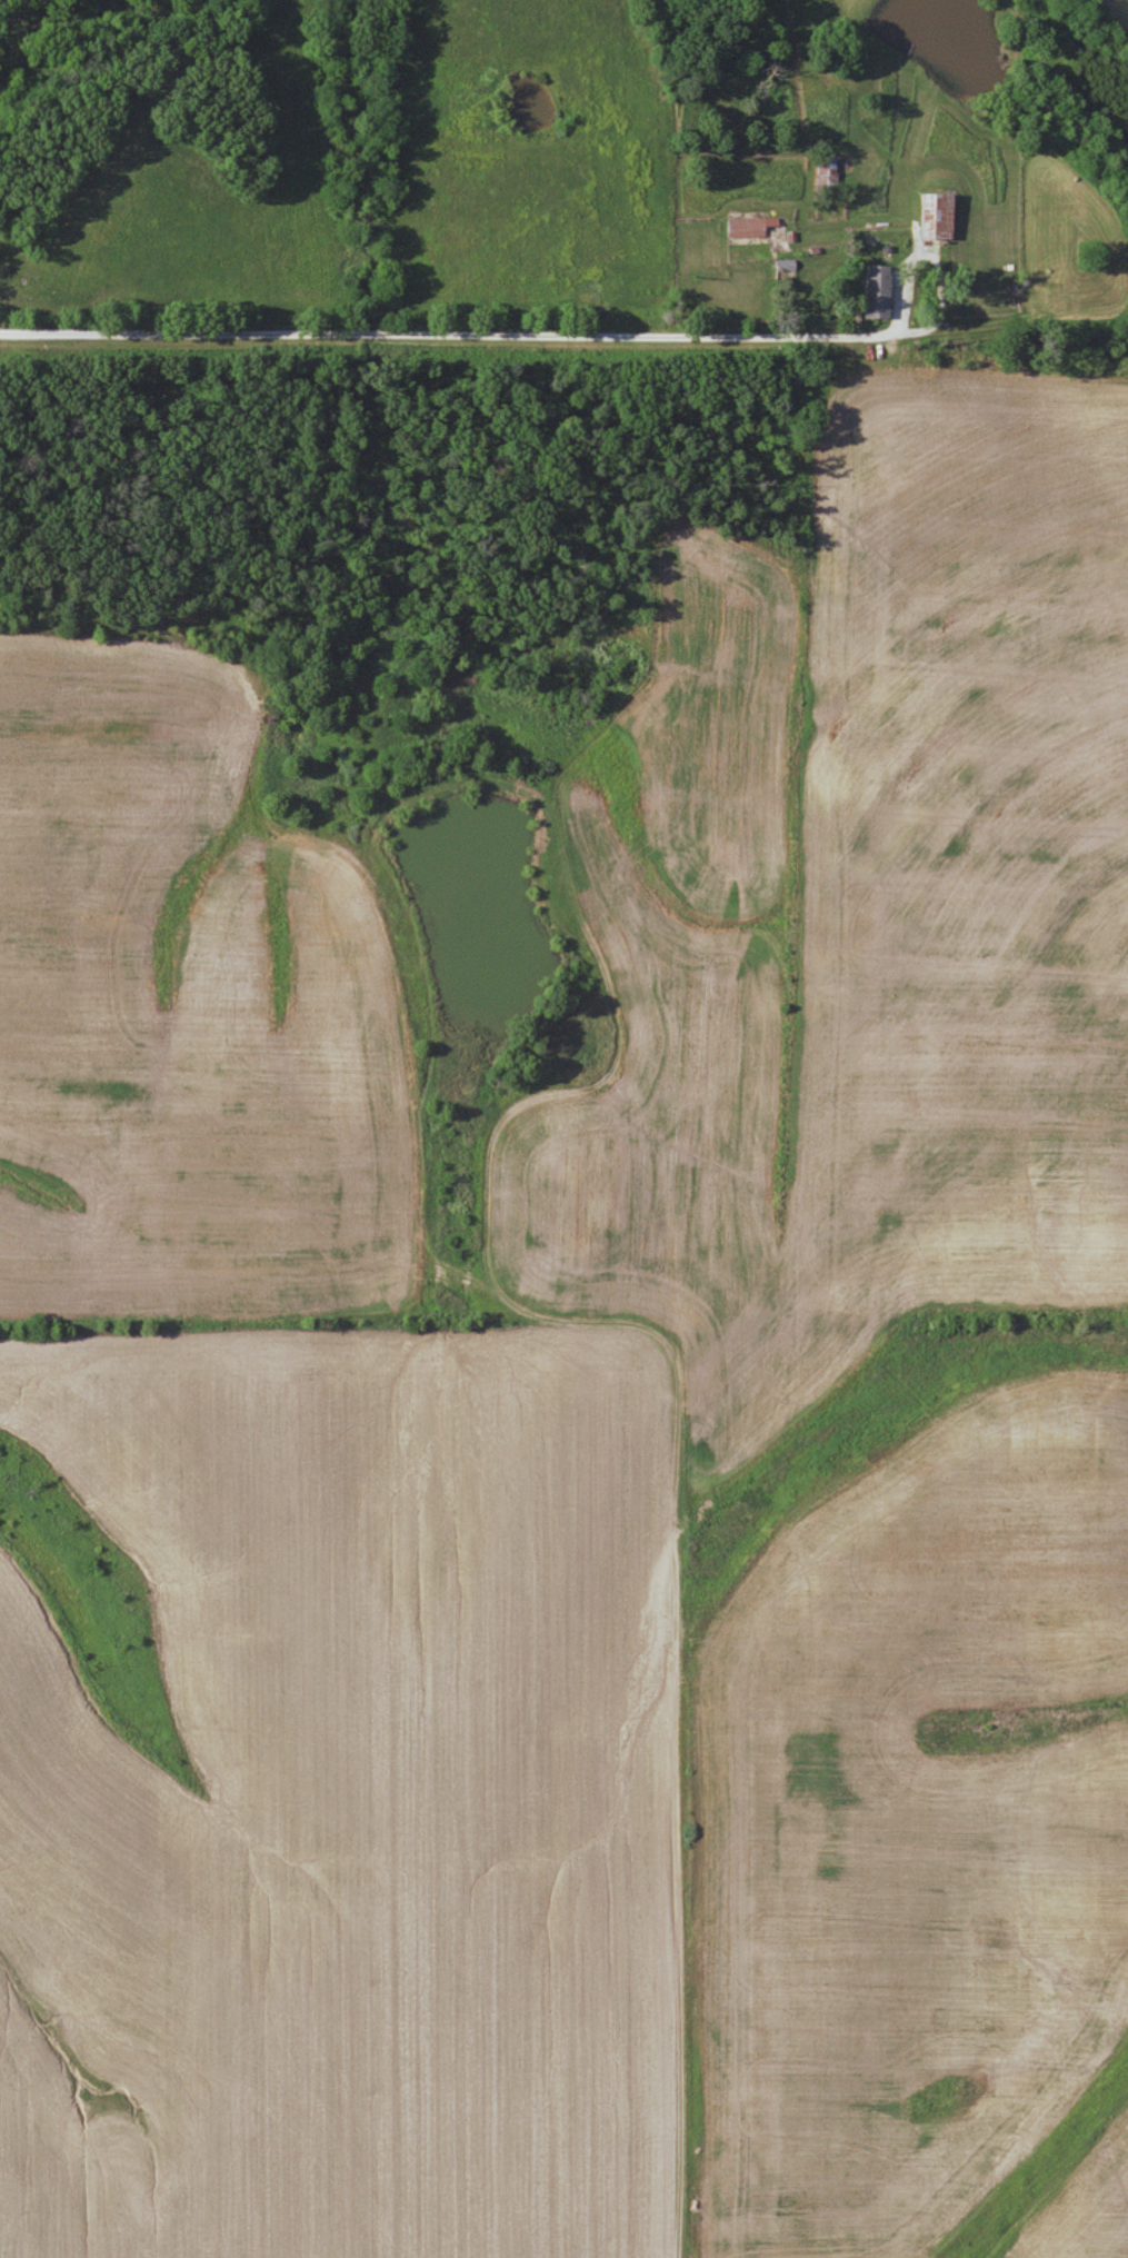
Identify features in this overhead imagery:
building: (826, 177)
building: (937, 217)
building: (752, 229)
building: (876, 292)
road: (476, 336)

